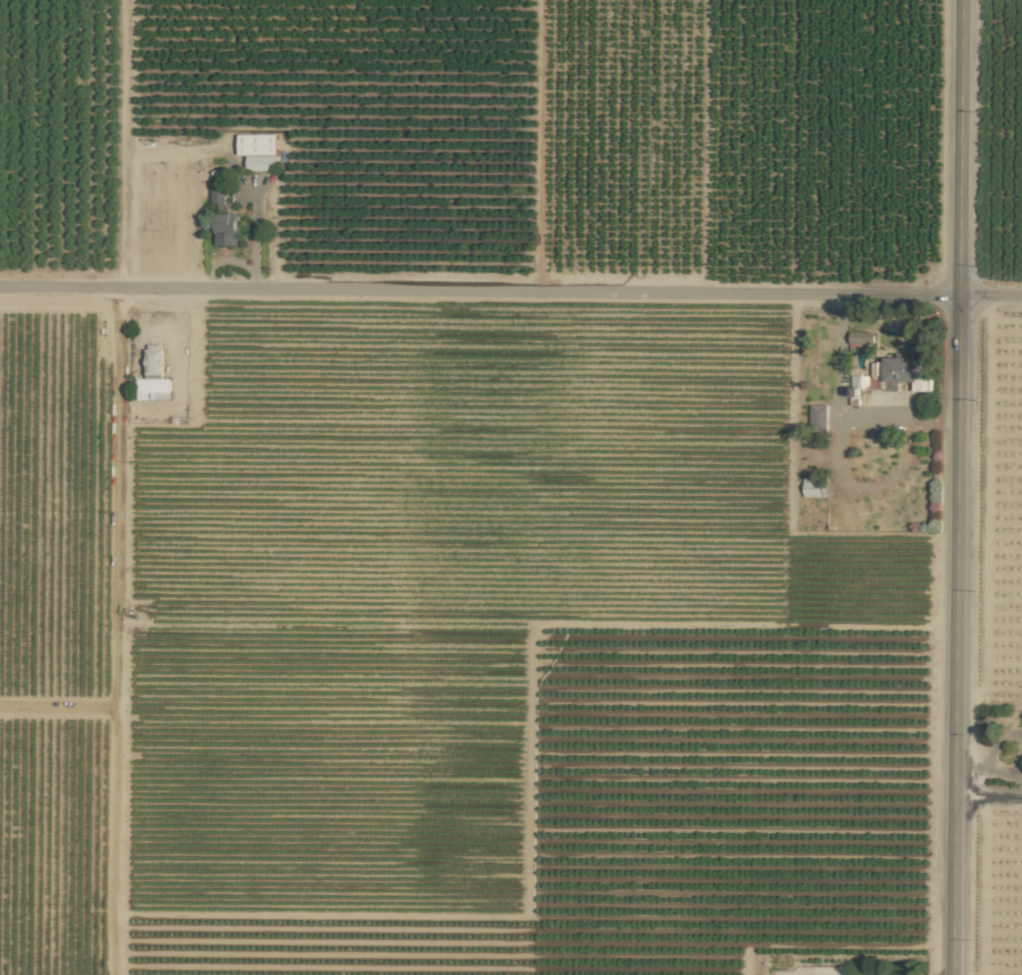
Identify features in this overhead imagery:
building: (257, 150)
building: (217, 194)
building: (226, 229)
road: (511, 289)
road: (184, 334)
building: (861, 337)
building: (904, 373)
building: (153, 376)
building: (818, 416)
building: (812, 487)
road: (957, 487)
road: (988, 798)

